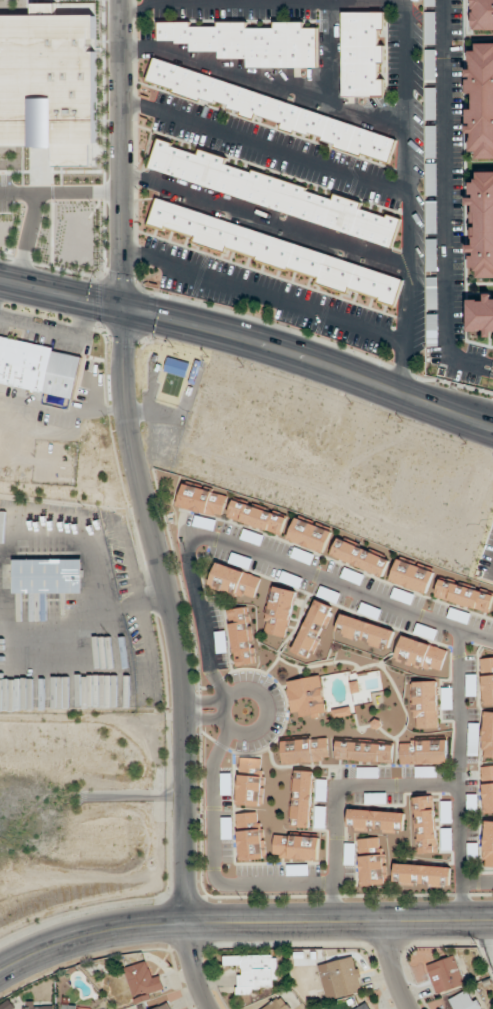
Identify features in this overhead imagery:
road: (262, 2)
building: (430, 3)
building: (482, 15)
building: (9, 24)
building: (430, 28)
building: (249, 42)
road: (333, 53)
building: (362, 54)
building: (431, 65)
road: (263, 82)
building: (481, 100)
building: (431, 103)
building: (271, 111)
building: (431, 141)
road: (264, 145)
building: (431, 179)
road: (445, 189)
building: (270, 191)
road: (406, 196)
building: (432, 216)
road: (265, 218)
building: (482, 223)
building: (277, 251)
building: (432, 254)
building: (432, 293)
road: (264, 296)
traffic signals: (125, 309)
building: (481, 314)
road: (56, 329)
building: (432, 329)
road: (233, 335)
road: (476, 365)
building: (39, 367)
park: (167, 396)
road: (63, 405)
road: (476, 417)
road: (476, 423)
road: (136, 463)
building: (202, 500)
building: (256, 517)
building: (309, 535)
road: (263, 556)
building: (359, 557)
building: (49, 576)
building: (411, 576)
building: (235, 581)
road: (99, 587)
building: (464, 595)
road: (139, 604)
building: (279, 611)
building: (313, 629)
building: (365, 631)
building: (242, 636)
building: (422, 654)
building: (487, 681)
building: (307, 696)
road: (203, 701)
building: (425, 704)
road: (222, 719)
road: (203, 720)
building: (488, 735)
building: (306, 750)
building: (365, 751)
building: (424, 751)
building: (368, 772)
road: (458, 775)
building: (251, 781)
building: (488, 787)
road: (335, 792)
building: (303, 798)
building: (472, 804)
building: (447, 811)
building: (321, 816)
building: (376, 821)
building: (426, 824)
building: (227, 828)
building: (251, 835)
building: (447, 838)
building: (488, 844)
building: (296, 847)
road: (213, 861)
building: (372, 861)
building: (297, 870)
building: (422, 875)
road: (476, 880)
road: (242, 922)
road: (391, 966)
road: (193, 967)
building: (254, 971)
building: (446, 975)
building: (341, 978)
building: (143, 980)
building: (466, 1000)
building: (278, 1004)
building: (39, 1006)
building: (70, 1006)
building: (368, 1006)
building: (165, 1007)

